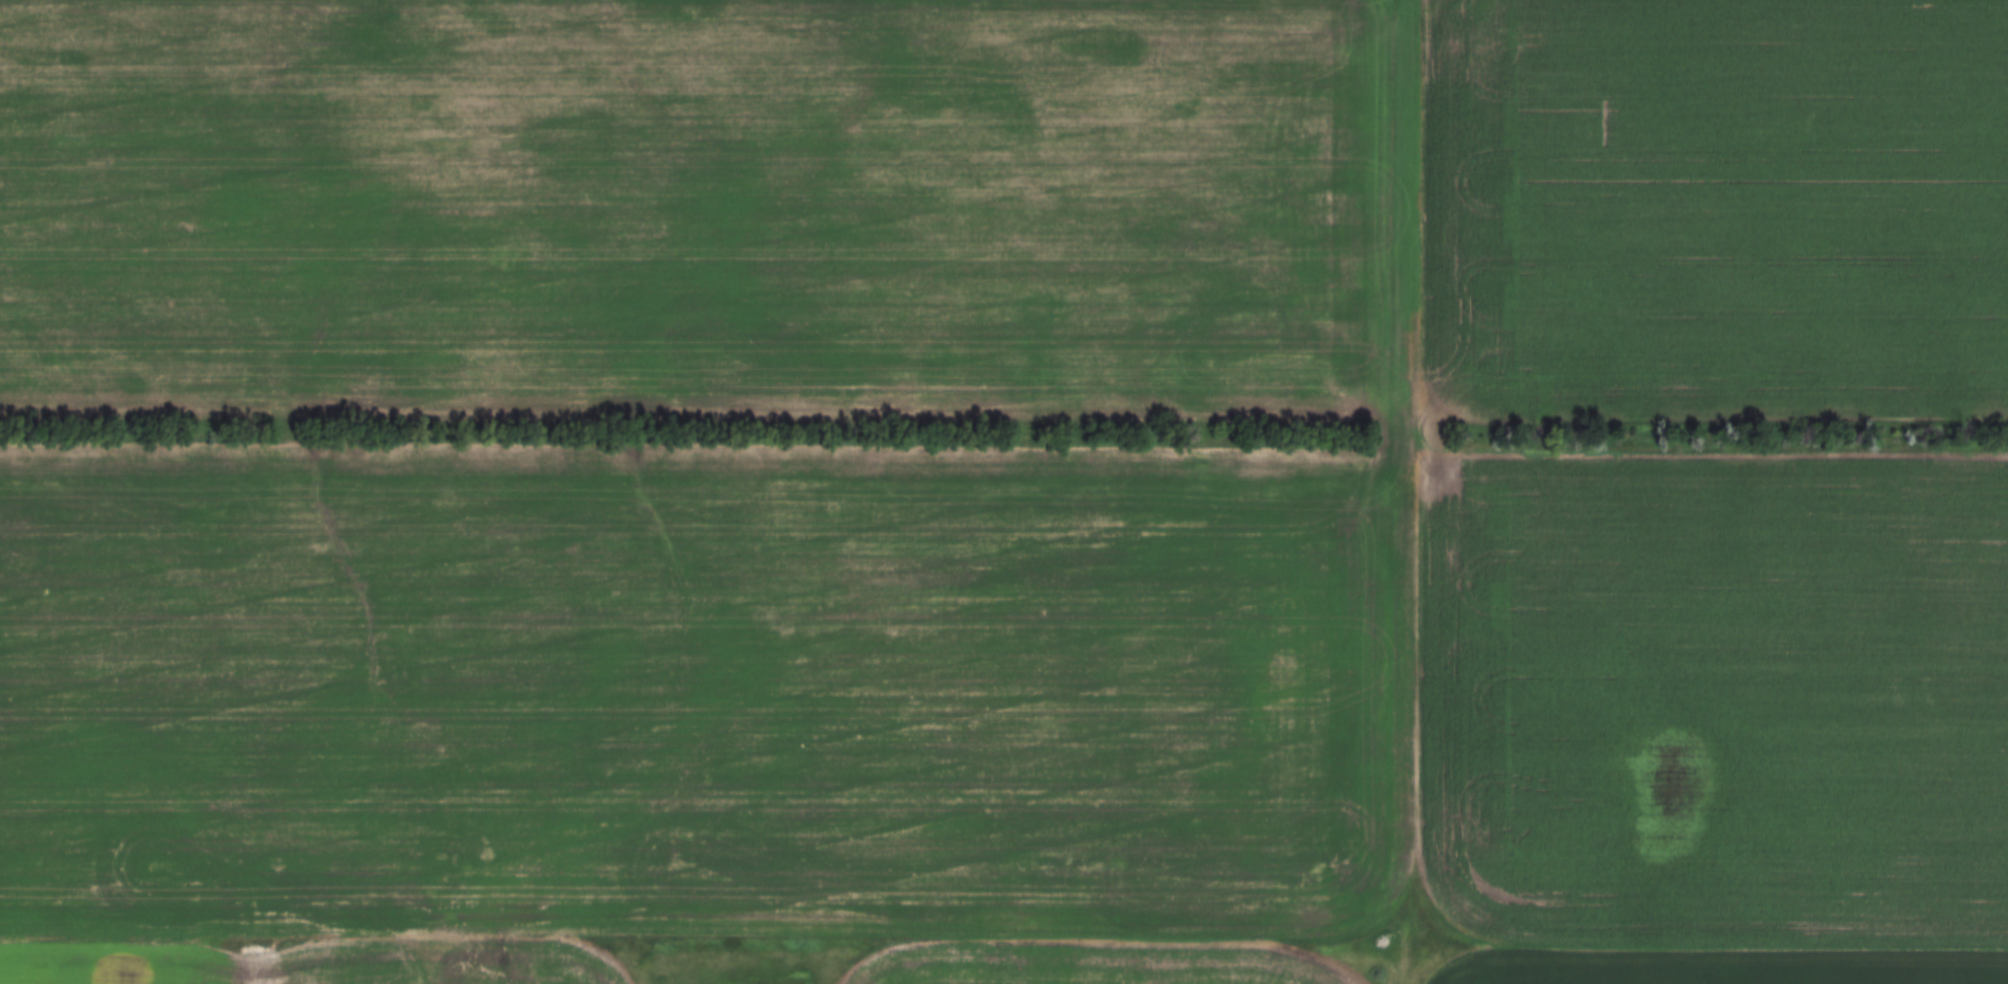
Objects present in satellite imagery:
road: (1404, 978)

